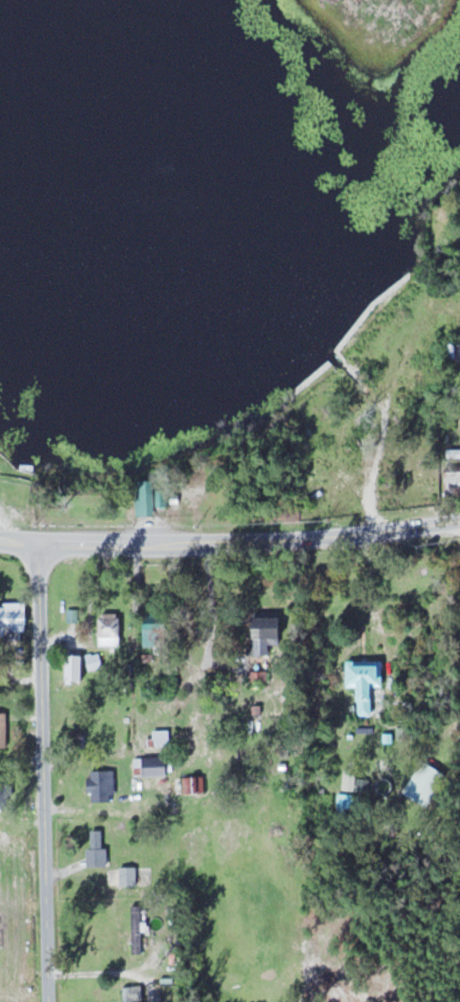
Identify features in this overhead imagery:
building: (454, 454)
building: (452, 479)
building: (2, 481)
building: (145, 497)
building: (162, 497)
road: (252, 537)
road: (22, 538)
building: (15, 615)
building: (111, 626)
building: (267, 630)
building: (156, 632)
building: (95, 660)
building: (76, 667)
building: (367, 681)
building: (4, 729)
building: (162, 737)
building: (153, 765)
road: (44, 771)
building: (354, 780)
building: (426, 782)
building: (193, 783)
building: (103, 785)
building: (350, 801)
building: (98, 847)
building: (130, 876)
building: (136, 928)
building: (134, 993)

